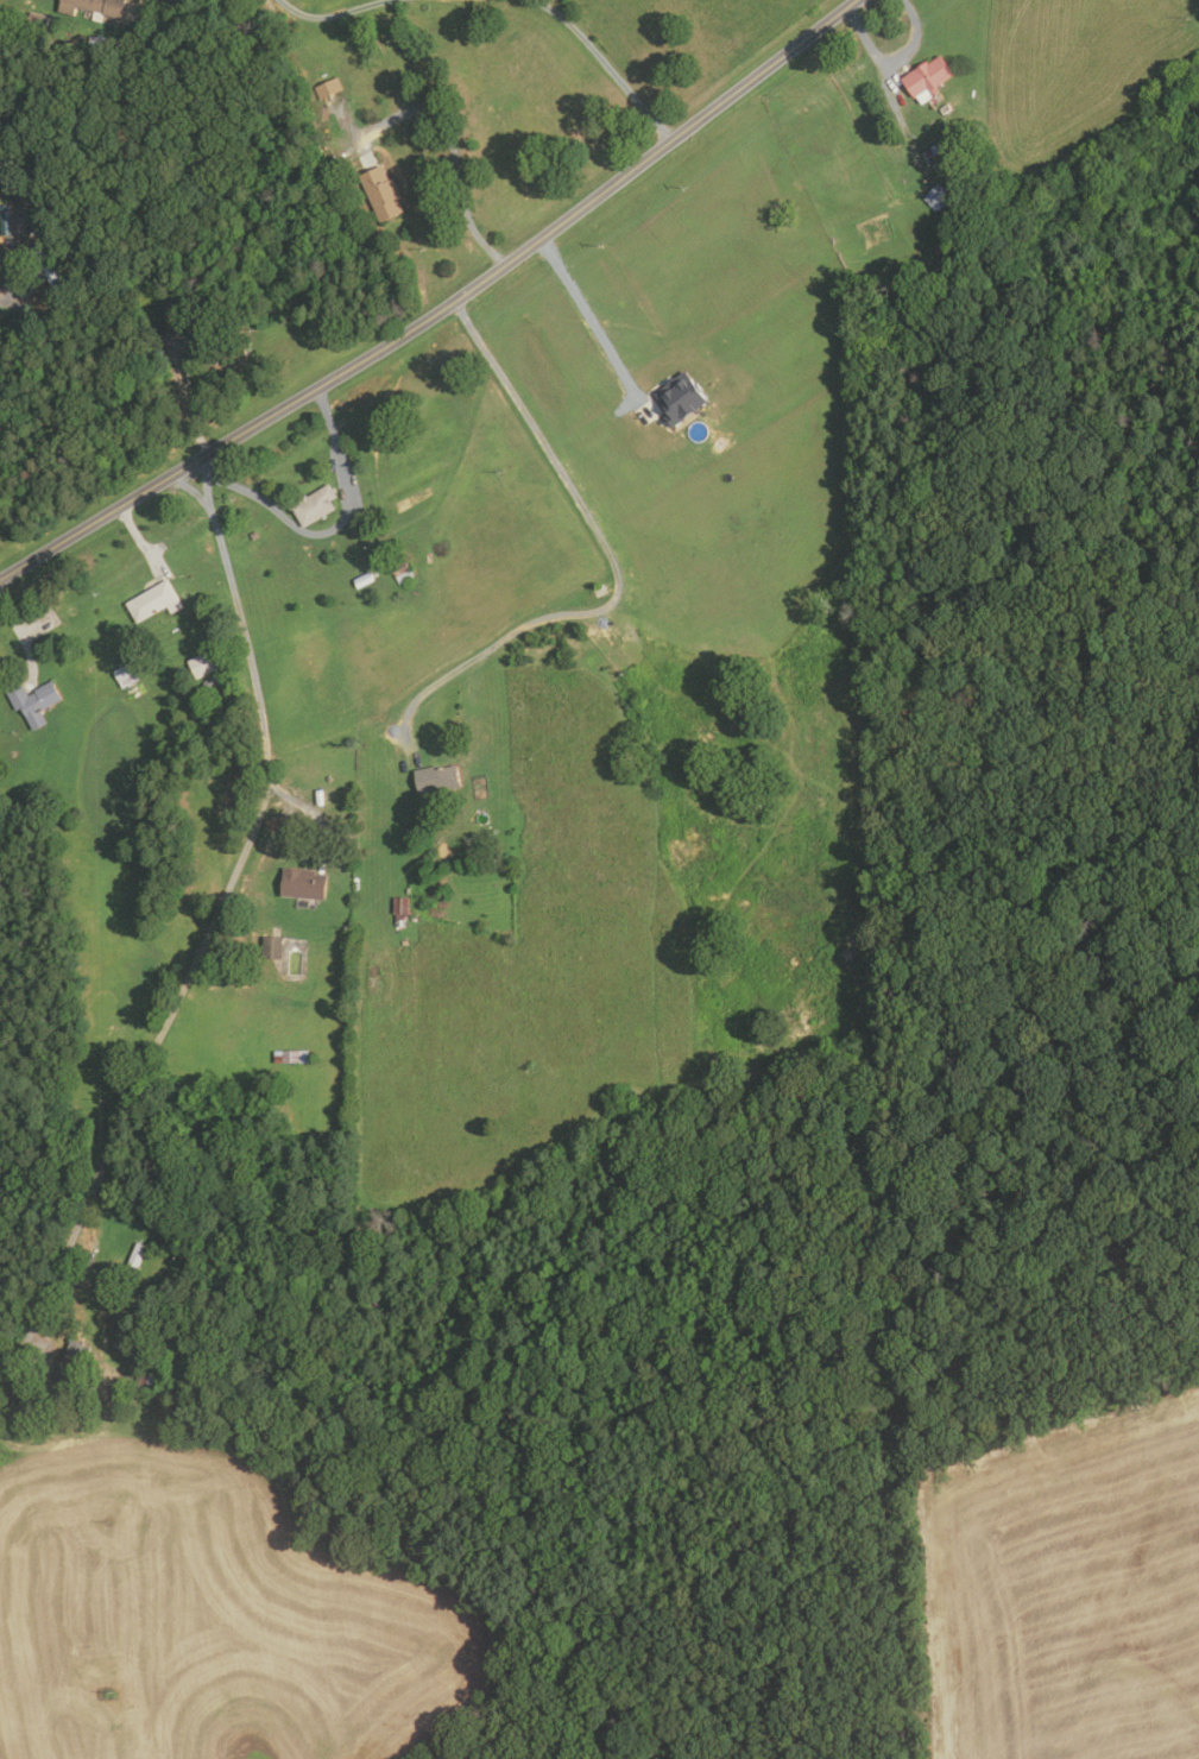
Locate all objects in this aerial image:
building: (175, 5)
building: (95, 6)
road: (324, 12)
building: (97, 40)
road: (892, 58)
road: (604, 64)
building: (926, 76)
building: (328, 88)
road: (452, 153)
building: (940, 153)
building: (384, 194)
building: (933, 194)
building: (52, 209)
building: (8, 220)
building: (63, 237)
building: (40, 273)
road: (2, 292)
road: (441, 307)
building: (176, 315)
road: (597, 329)
building: (227, 352)
building: (680, 398)
road: (204, 484)
road: (190, 490)
building: (316, 505)
road: (328, 530)
building: (255, 536)
building: (402, 570)
road: (616, 579)
building: (366, 580)
building: (599, 590)
building: (154, 601)
building: (206, 664)
building: (126, 675)
building: (213, 682)
building: (37, 702)
building: (440, 777)
building: (496, 860)
building: (474, 865)
building: (304, 883)
building: (404, 906)
building: (273, 946)
road: (196, 957)
building: (291, 1057)
building: (194, 1237)
building: (134, 1265)
building: (163, 1291)
building: (131, 1348)
building: (74, 1362)
building: (149, 1381)
crop: (215, 1620)

